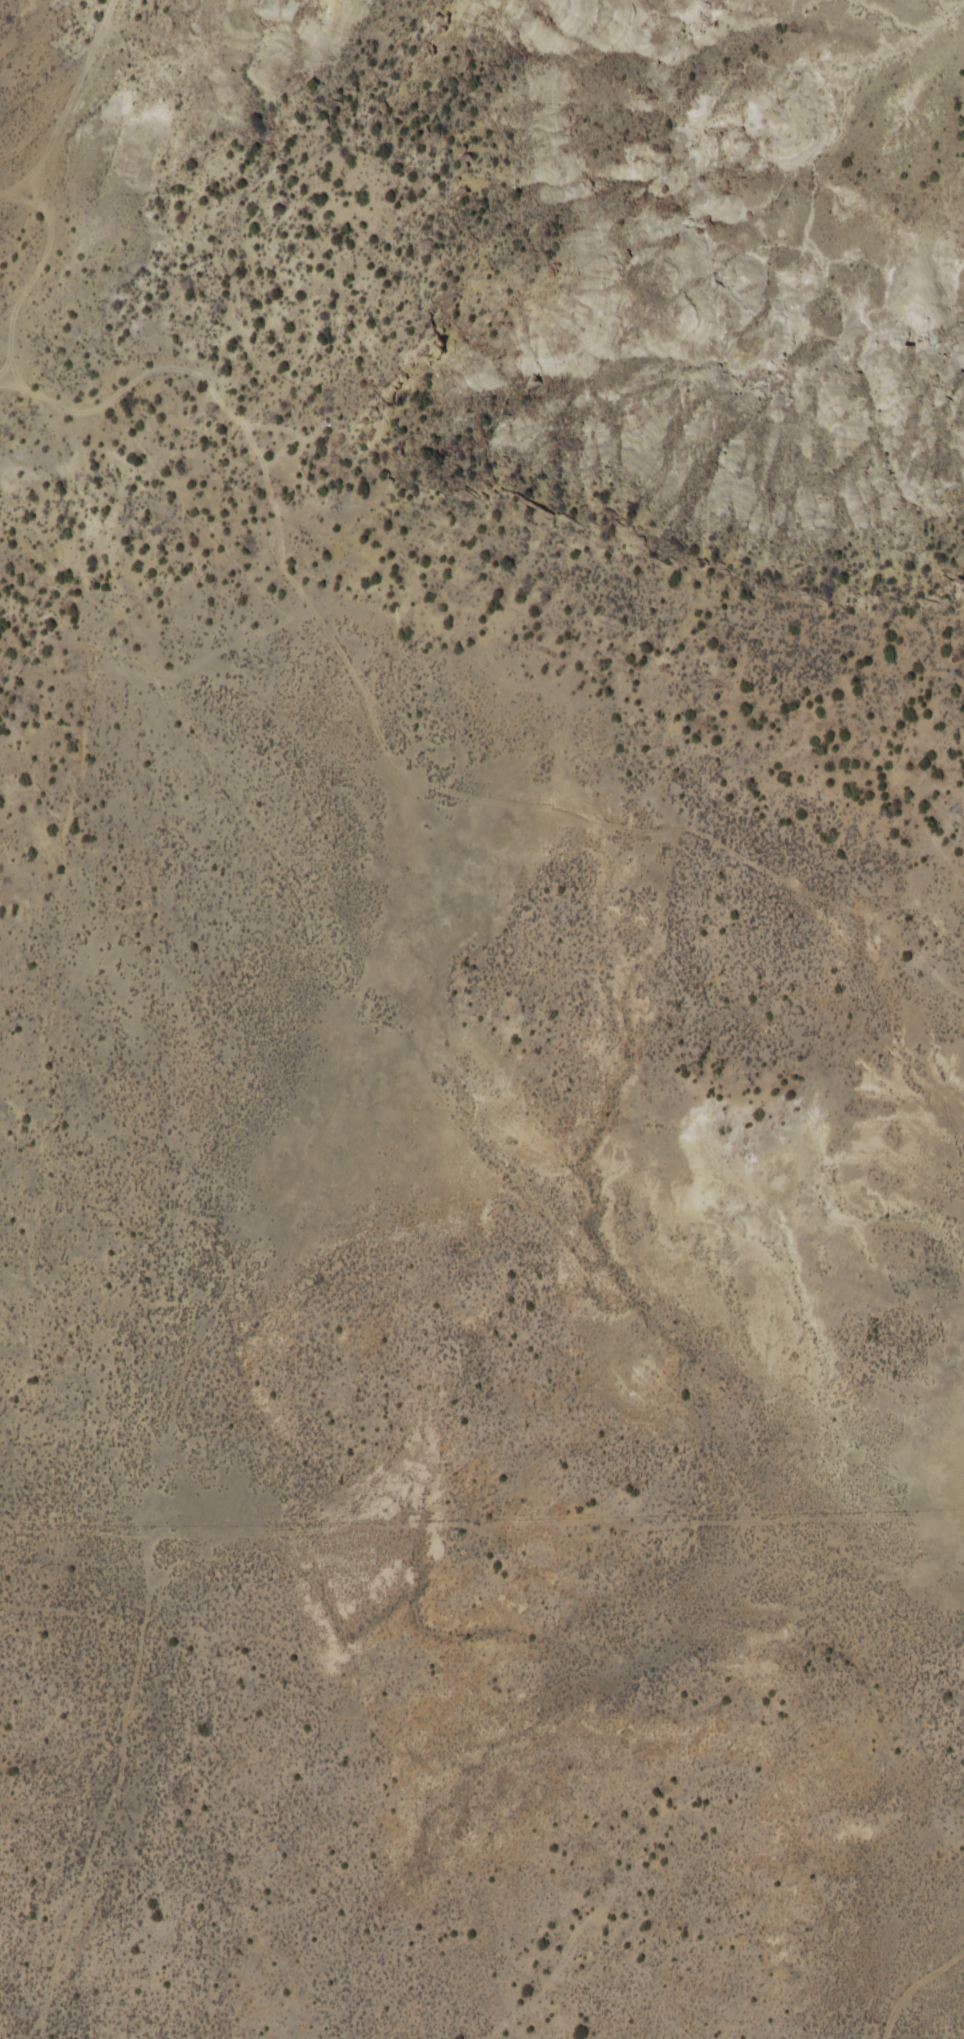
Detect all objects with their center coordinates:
road: (23, 94)
road: (68, 113)
road: (5, 194)

